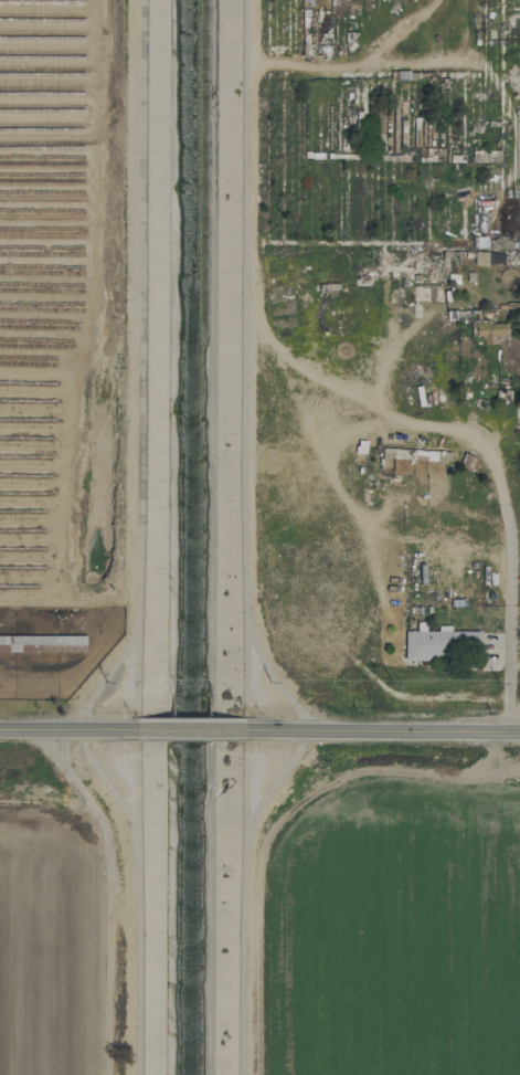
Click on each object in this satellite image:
building: (382, 4)
building: (475, 124)
building: (487, 331)
building: (450, 365)
road: (476, 436)
building: (441, 641)
road: (508, 683)
road: (77, 728)
road: (197, 729)
road: (379, 735)
crop: (67, 909)

